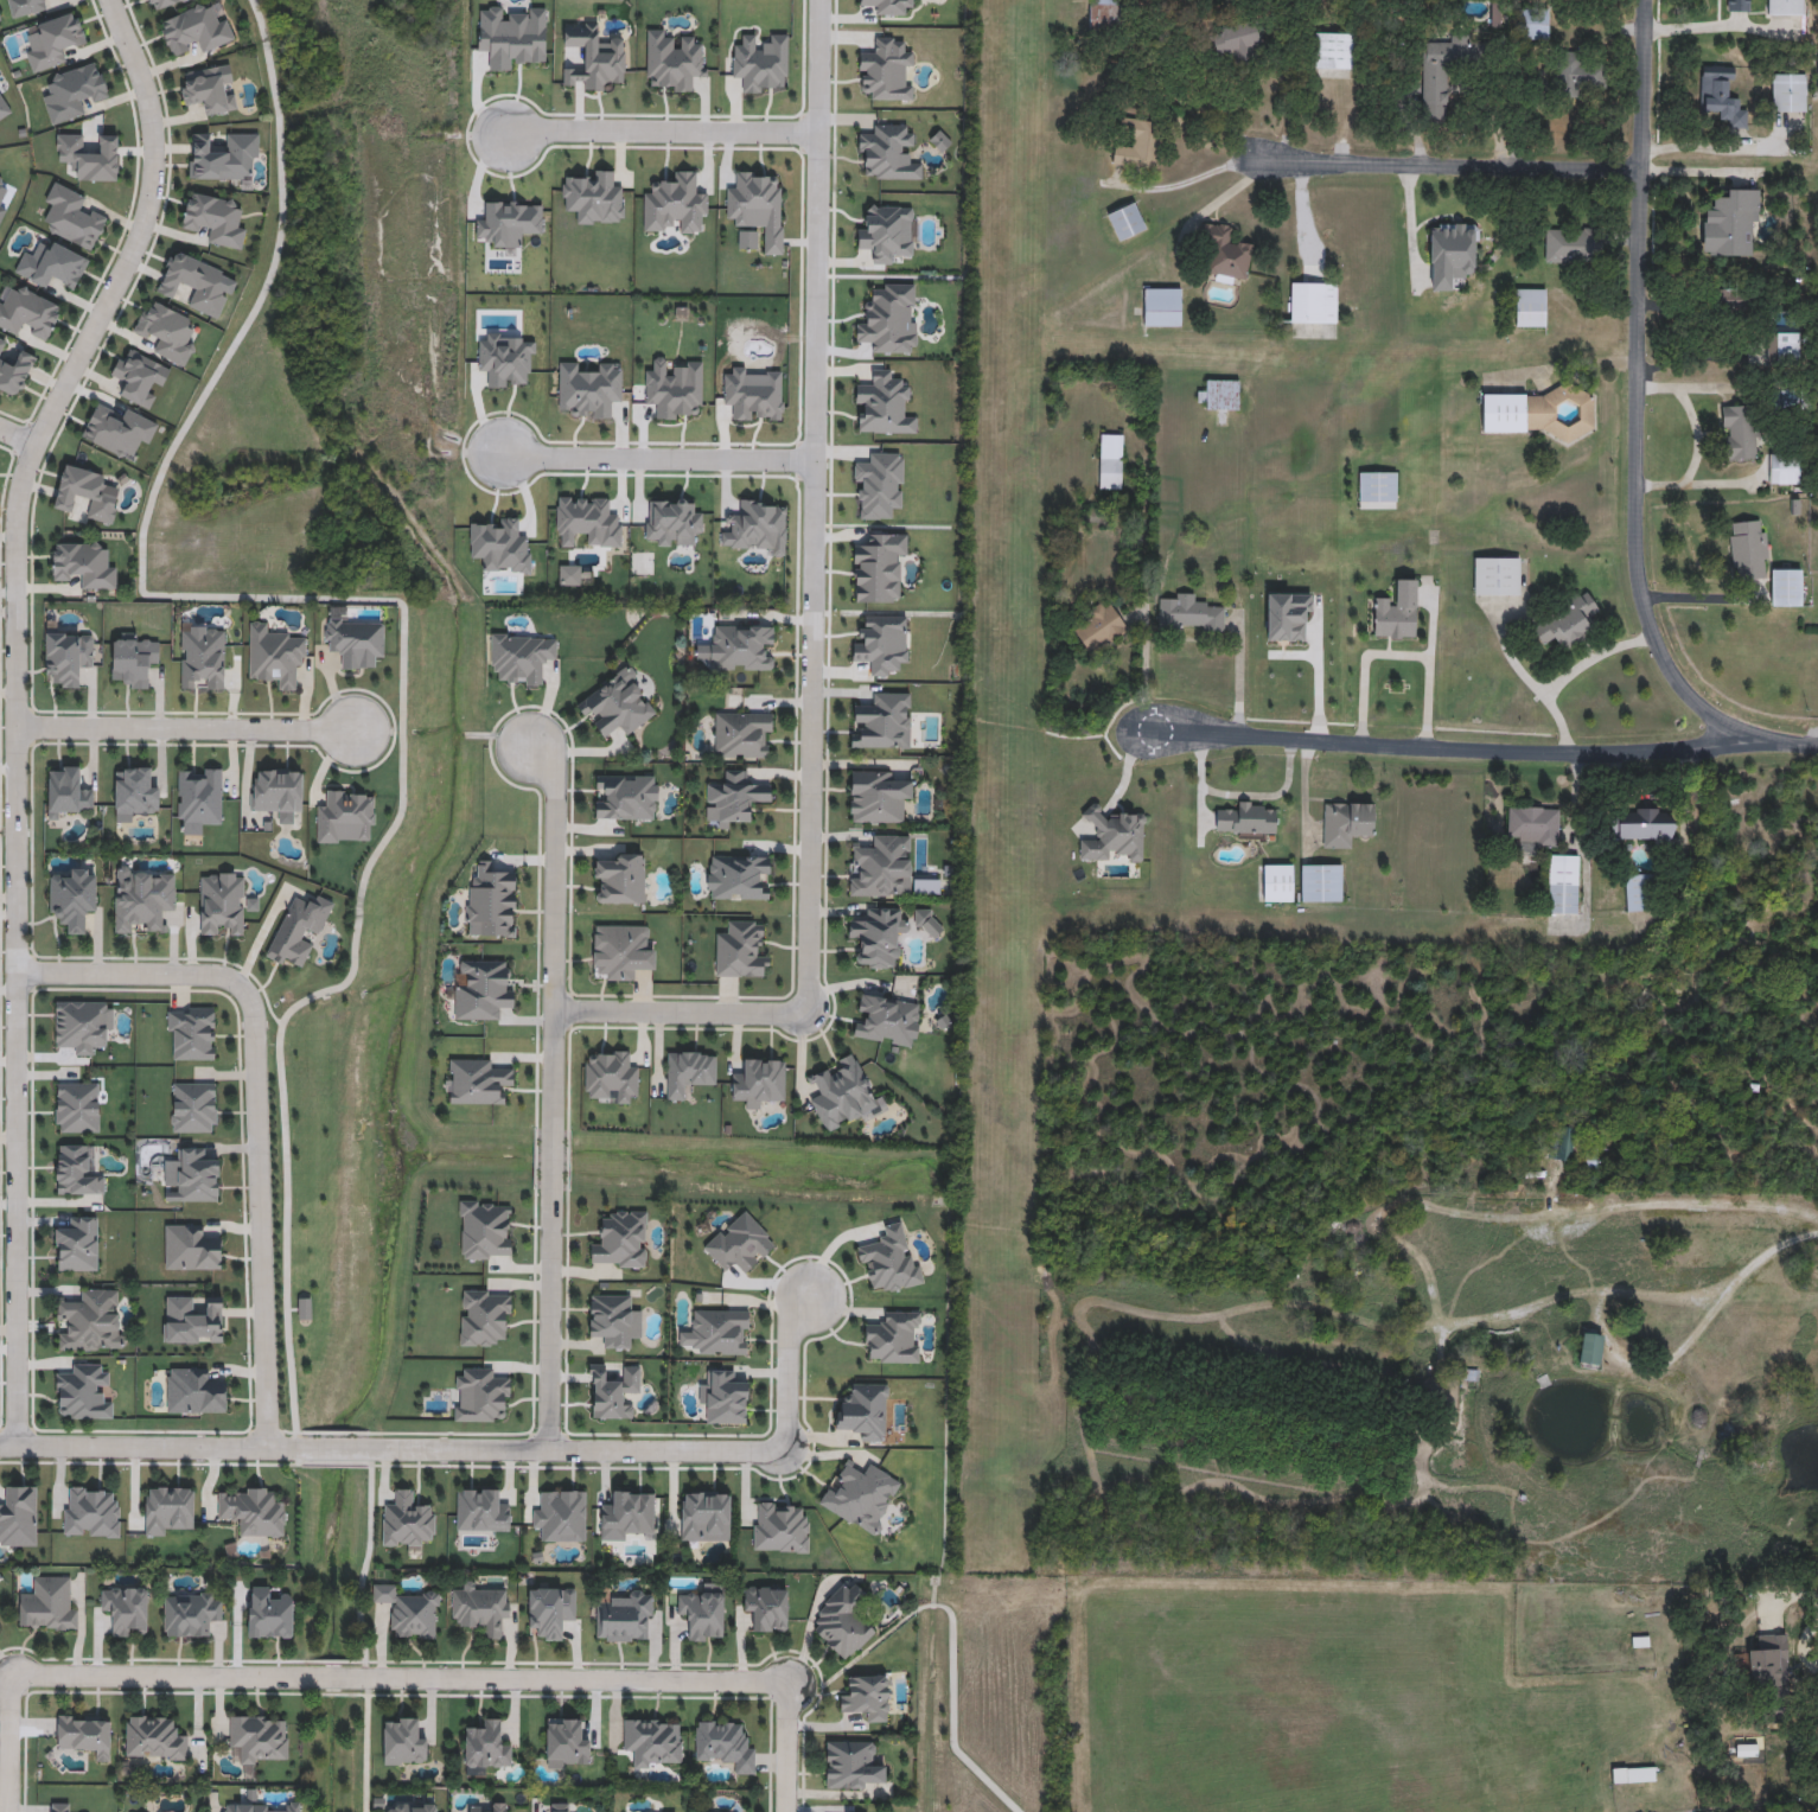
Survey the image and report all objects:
building: (161, 2)
building: (26, 6)
building: (1739, 6)
building: (1786, 7)
building: (1105, 17)
road: (1720, 26)
building: (1529, 27)
building: (194, 30)
building: (53, 39)
building: (1236, 40)
building: (1333, 51)
building: (1580, 75)
building: (1817, 76)
building: (210, 88)
building: (75, 90)
building: (1434, 94)
building: (1787, 94)
building: (1720, 95)
building: (4, 107)
road: (661, 130)
building: (1140, 143)
road: (1695, 147)
building: (89, 155)
building: (223, 155)
road: (1443, 165)
road: (1697, 171)
road: (1744, 180)
building: (2, 185)
road: (1179, 186)
road: (1217, 204)
building: (2, 212)
building: (72, 216)
building: (216, 218)
building: (1125, 223)
road: (1302, 224)
building: (1729, 224)
road: (1410, 226)
building: (1571, 248)
building: (1223, 250)
building: (1448, 257)
building: (52, 264)
road: (1422, 277)
building: (194, 282)
building: (1731, 300)
building: (1313, 304)
building: (1162, 308)
building: (1530, 310)
building: (27, 311)
building: (166, 330)
building: (2, 343)
road: (1684, 347)
building: (1785, 350)
airport taxiway: (1323, 352)
building: (15, 372)
building: (141, 377)
road: (1693, 387)
building: (1221, 396)
building: (1505, 413)
building: (1564, 414)
road: (1635, 427)
building: (119, 429)
building: (1739, 432)
road: (1697, 436)
road: (15, 439)
road: (657, 457)
building: (1111, 462)
building: (1785, 467)
road: (1703, 484)
building: (1377, 489)
building: (87, 492)
building: (1748, 549)
building: (84, 562)
building: (1495, 578)
building: (1786, 589)
road: (1702, 599)
road: (403, 604)
building: (1396, 614)
building: (1187, 617)
building: (1288, 618)
road: (1431, 624)
building: (1567, 625)
building: (1096, 626)
road: (812, 636)
building: (355, 640)
building: (741, 646)
road: (1506, 646)
building: (275, 653)
building: (69, 655)
building: (522, 655)
road: (1291, 655)
building: (203, 656)
road: (1398, 656)
building: (133, 657)
road: (1316, 669)
road: (1238, 672)
road: (1144, 674)
road: (1568, 675)
road: (15, 703)
building: (617, 703)
building: (885, 720)
road: (185, 730)
building: (744, 733)
road: (1457, 747)
airport runway: (1006, 777)
road: (1122, 781)
road: (1201, 786)
building: (278, 789)
building: (69, 790)
building: (134, 791)
building: (627, 796)
building: (876, 796)
road: (1270, 796)
building: (199, 797)
building: (734, 797)
road: (1305, 802)
building: (347, 816)
building: (1245, 818)
building: (1345, 824)
building: (1641, 825)
building: (1532, 828)
building: (1111, 835)
road: (1314, 836)
building: (882, 866)
building: (739, 876)
building: (619, 878)
building: (1321, 882)
building: (1277, 883)
building: (1562, 883)
building: (1642, 892)
building: (74, 897)
building: (143, 899)
building: (491, 901)
building: (223, 902)
airport taxiway: (1261, 926)
building: (300, 929)
building: (878, 934)
building: (620, 950)
building: (741, 950)
building: (483, 989)
building: (888, 1019)
building: (83, 1023)
building: (191, 1032)
building: (1616, 1067)
building: (690, 1071)
building: (611, 1076)
building: (760, 1079)
building: (477, 1080)
building: (842, 1092)
road: (553, 1093)
road: (259, 1102)
building: (77, 1105)
building: (194, 1106)
building: (1564, 1143)
building: (77, 1169)
building: (197, 1174)
road: (1633, 1207)
building: (486, 1229)
building: (621, 1238)
building: (740, 1242)
building: (78, 1244)
building: (191, 1246)
road: (1773, 1250)
building: (888, 1261)
building: (484, 1316)
building: (613, 1319)
building: (91, 1320)
building: (720, 1331)
building: (894, 1336)
road: (1606, 1340)
building: (1589, 1352)
road: (789, 1371)
building: (194, 1389)
building: (612, 1390)
building: (83, 1391)
building: (480, 1395)
building: (726, 1397)
building: (865, 1410)
road: (393, 1448)
building: (861, 1497)
building: (167, 1510)
building: (480, 1511)
building: (253, 1512)
building: (90, 1513)
building: (629, 1513)
building: (19, 1517)
building: (561, 1517)
building: (706, 1517)
building: (407, 1521)
building: (780, 1529)
road: (1793, 1600)
building: (47, 1606)
building: (767, 1608)
building: (480, 1609)
building: (549, 1610)
building: (127, 1612)
building: (410, 1613)
building: (703, 1614)
building: (190, 1615)
building: (268, 1615)
building: (625, 1619)
building: (843, 1622)
road: (1803, 1644)
building: (1769, 1663)
road: (400, 1679)
park: (990, 1692)
building: (867, 1698)
building: (85, 1735)
building: (154, 1740)
building: (261, 1740)
road: (11, 1743)
building: (403, 1743)
building: (653, 1743)
building: (564, 1746)
building: (723, 1747)
road: (786, 1747)
building: (485, 1749)
building: (850, 1767)
building: (1641, 1775)
building: (264, 1807)
building: (409, 1807)
building: (58, 1808)
building: (487, 1808)
building: (560, 1808)

